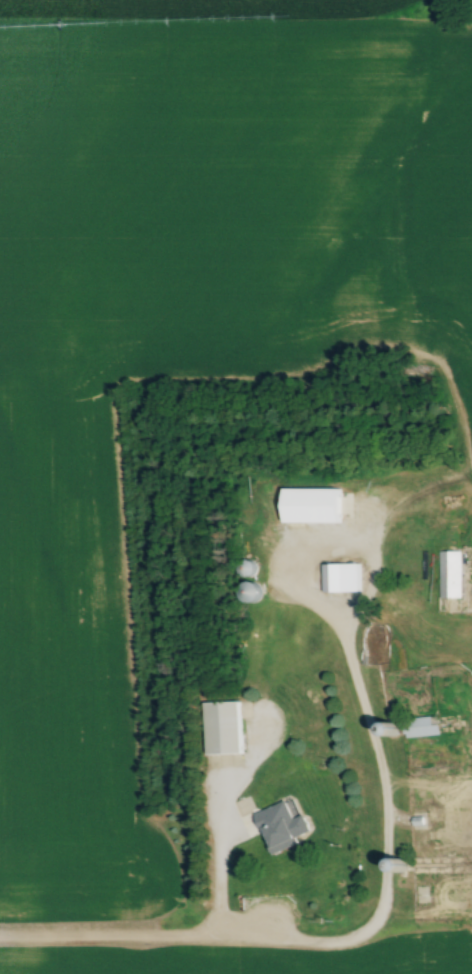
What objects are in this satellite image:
building: (256, 542)
building: (246, 567)
building: (448, 573)
building: (339, 577)
building: (248, 591)
building: (410, 726)
building: (223, 727)
building: (275, 827)
building: (401, 864)
road: (216, 880)
road: (372, 927)

